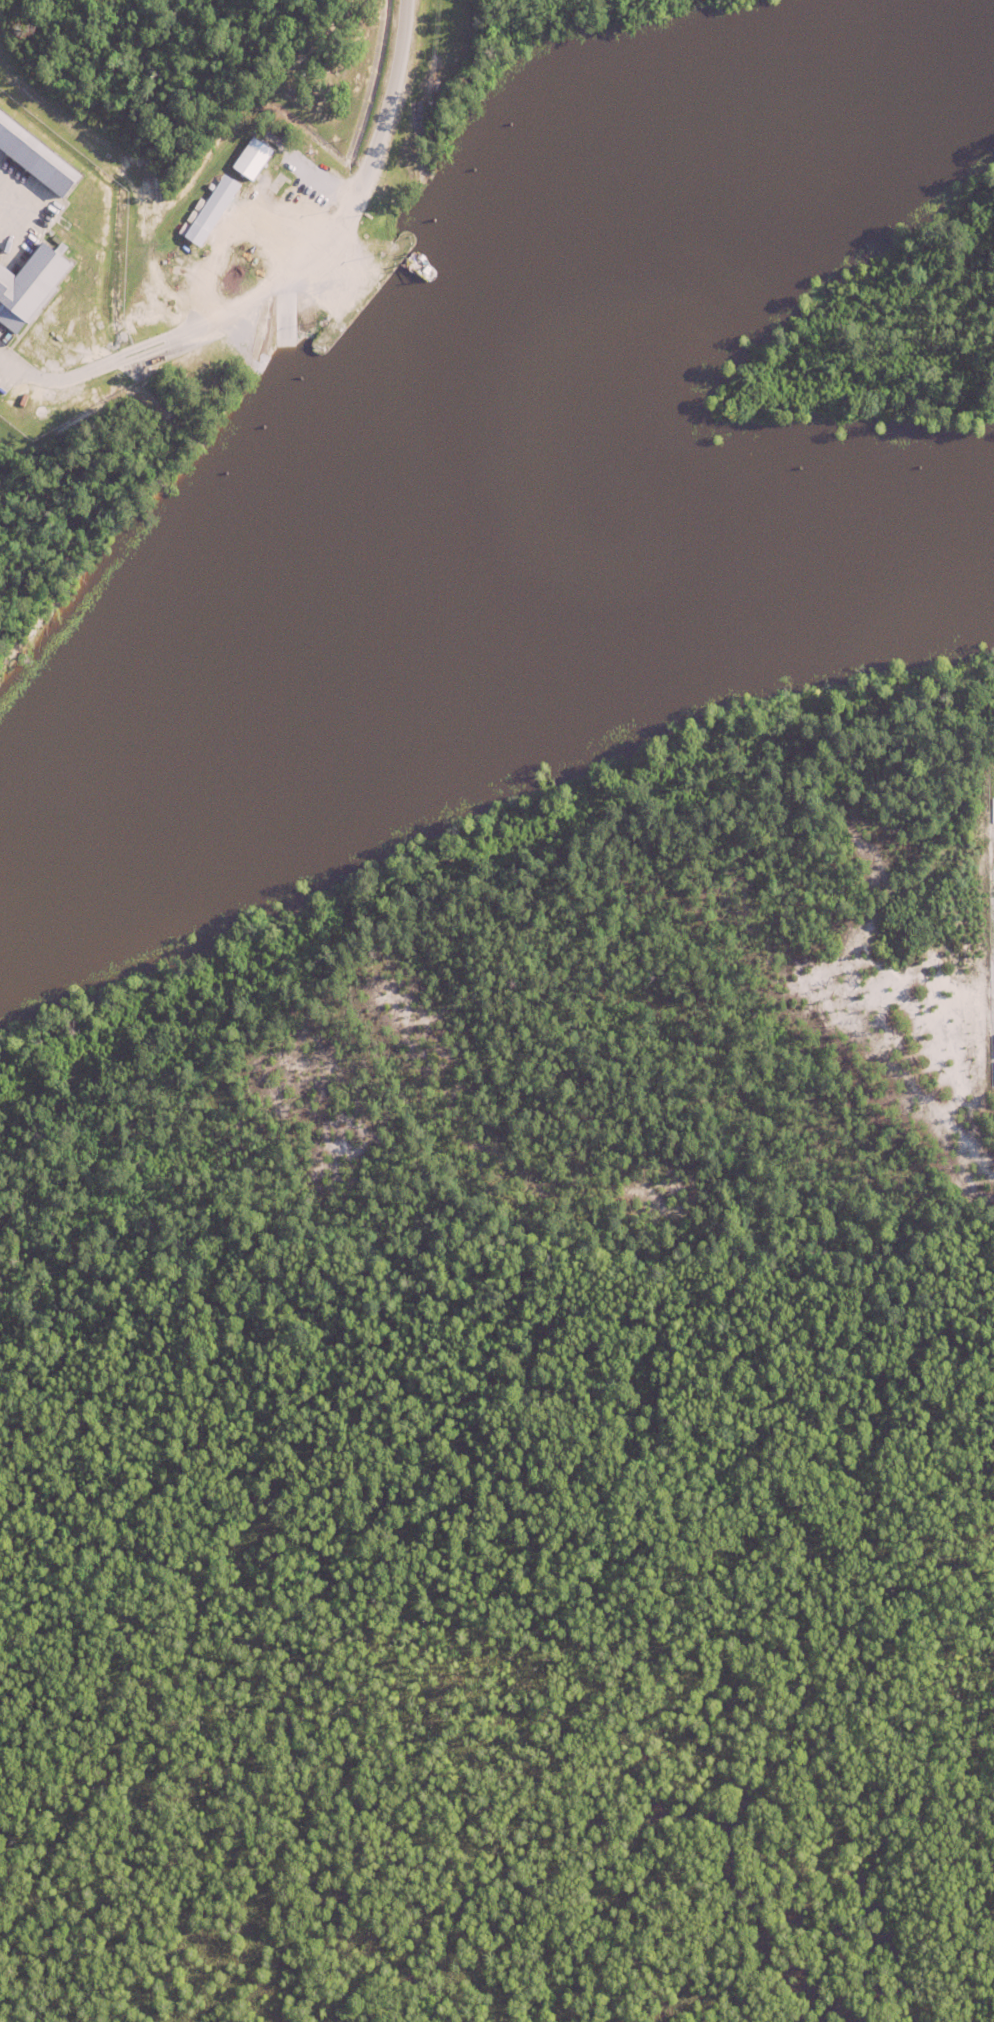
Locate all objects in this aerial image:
road: (380, 123)
building: (259, 157)
building: (298, 157)
building: (33, 159)
building: (307, 168)
building: (243, 171)
building: (213, 210)
building: (27, 287)
building: (993, 1044)

